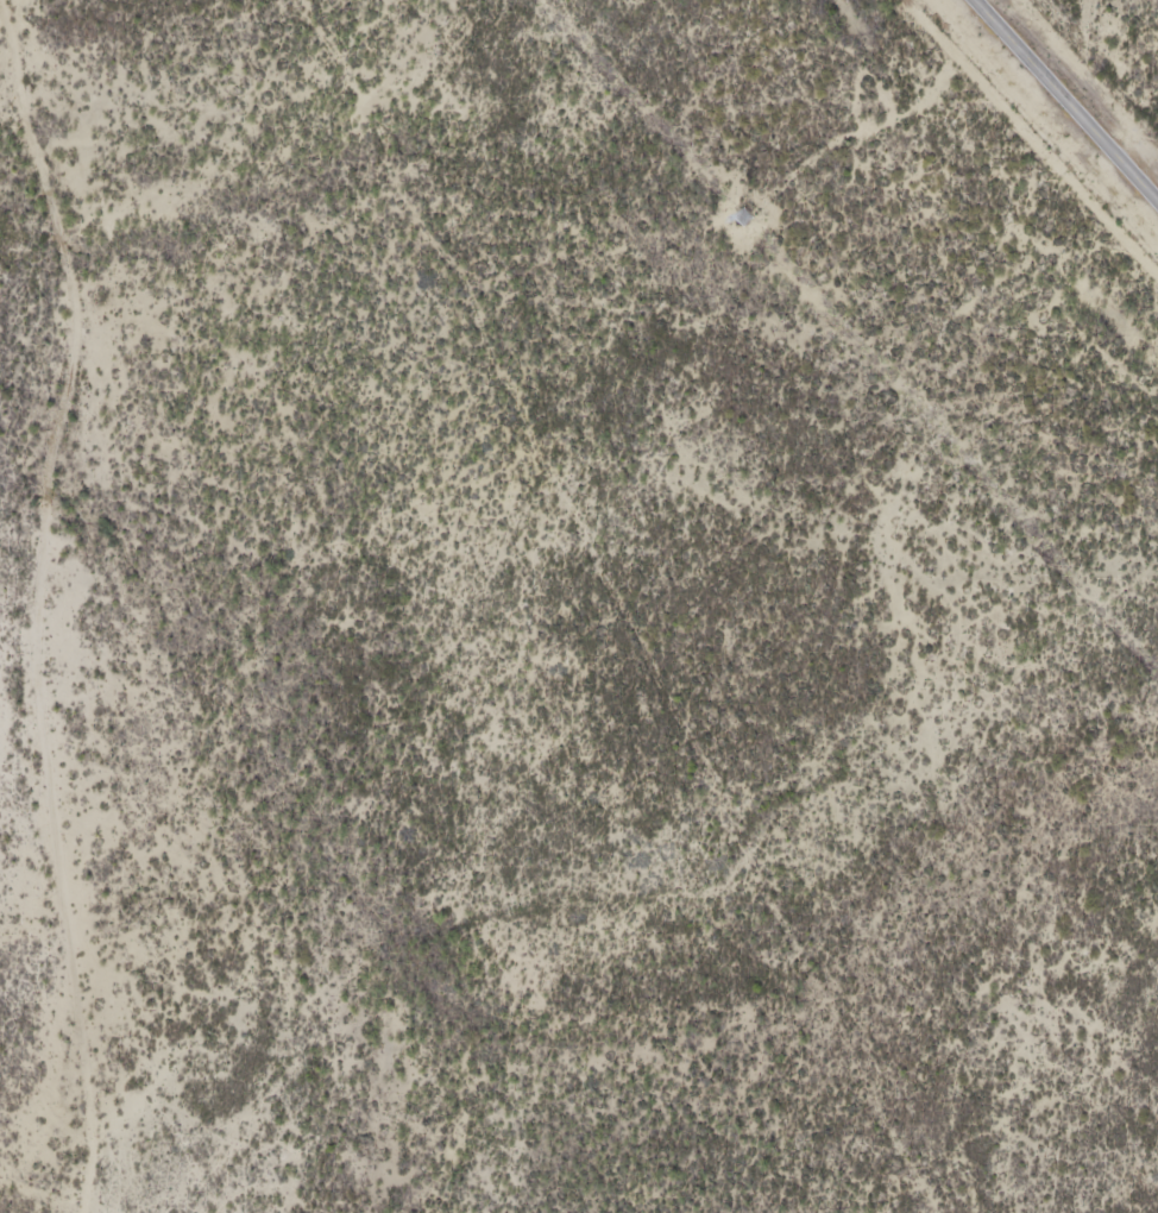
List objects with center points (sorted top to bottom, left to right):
power tower: (740, 220)

